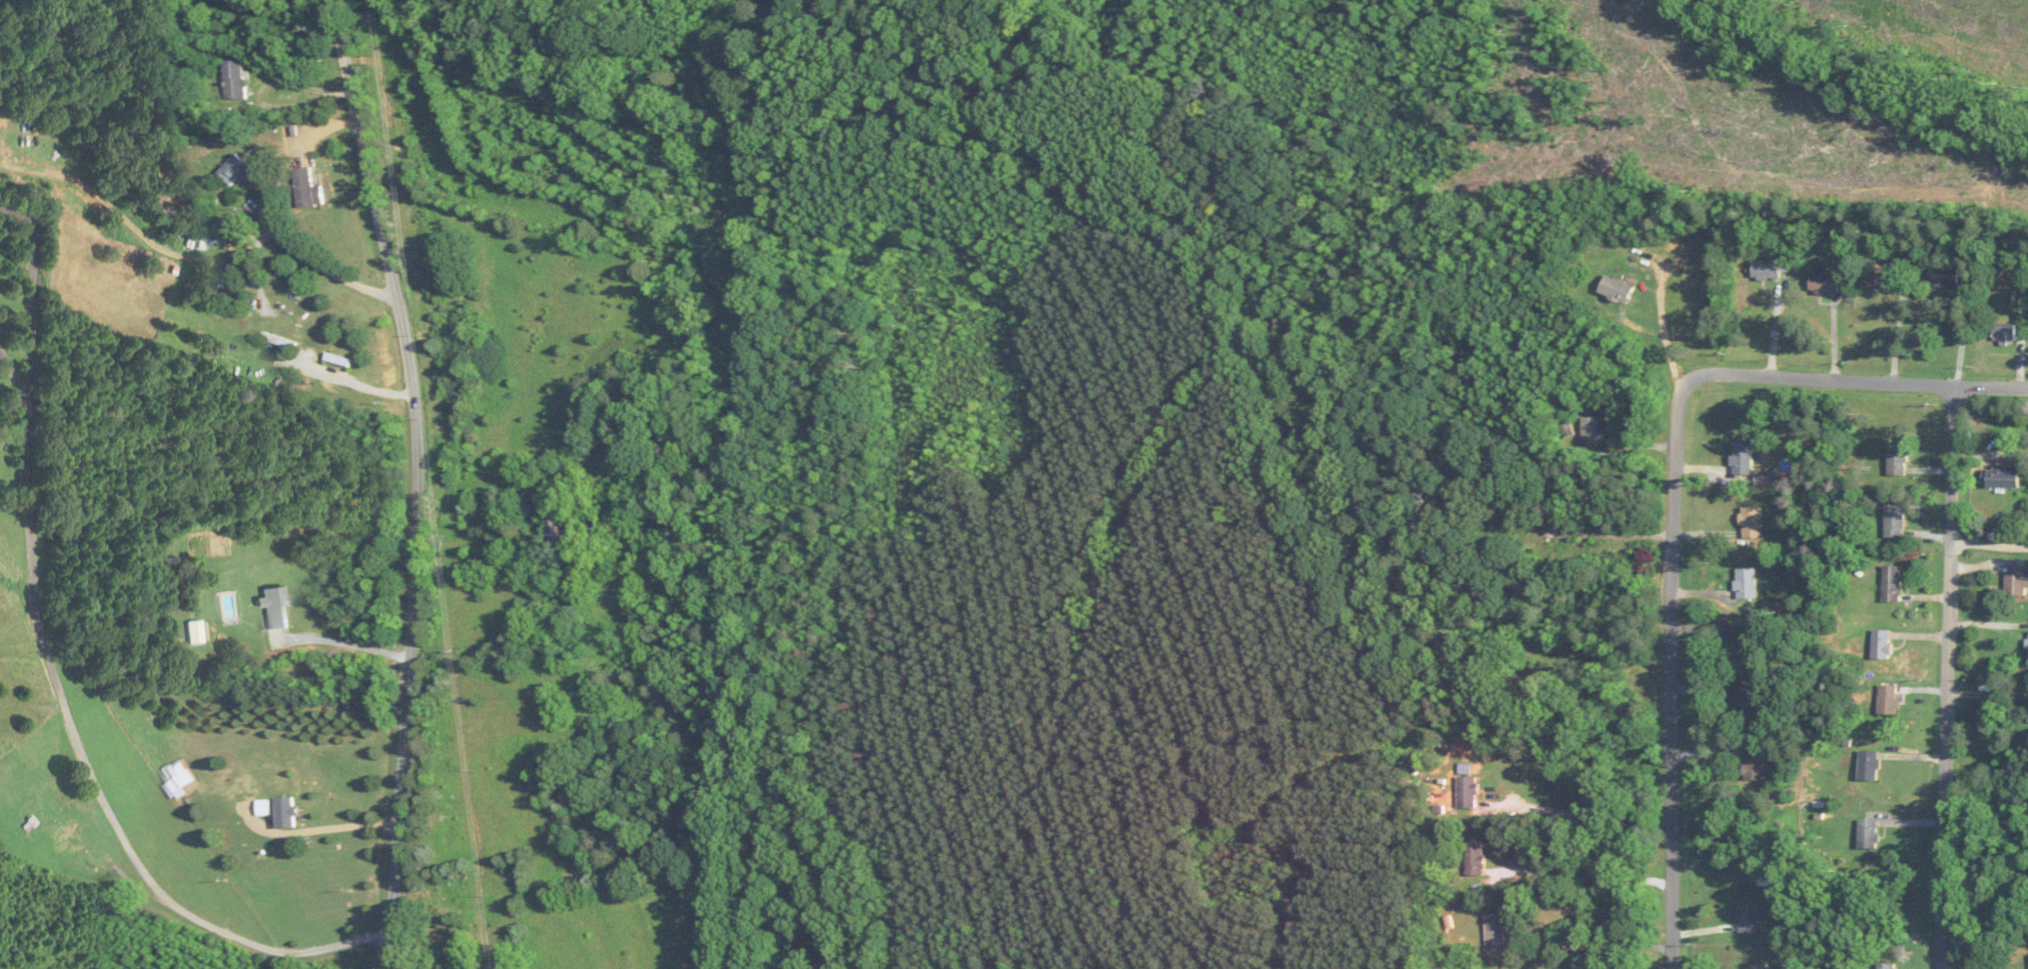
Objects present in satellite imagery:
building: (235, 81)
road: (262, 88)
building: (0, 130)
building: (234, 172)
building: (307, 190)
building: (194, 230)
road: (297, 244)
building: (1769, 270)
building: (1885, 277)
building: (1825, 284)
building: (1617, 290)
building: (293, 300)
road: (1898, 333)
building: (2005, 335)
road: (1962, 338)
building: (278, 341)
building: (338, 360)
road: (19, 371)
road: (1859, 382)
building: (1591, 433)
building: (1742, 459)
building: (1897, 462)
building: (2000, 479)
road: (423, 480)
building: (1751, 522)
building: (1894, 523)
building: (562, 528)
building: (1546, 543)
road: (1990, 544)
building: (2017, 581)
building: (1747, 582)
building: (1892, 583)
building: (273, 607)
building: (193, 632)
building: (1736, 639)
road: (348, 640)
building: (1882, 643)
building: (567, 658)
road: (1678, 674)
road: (61, 675)
road: (1950, 677)
building: (1743, 699)
building: (1888, 699)
building: (1754, 765)
building: (1869, 765)
building: (177, 776)
building: (1467, 792)
building: (264, 808)
building: (286, 812)
road: (1577, 813)
road: (326, 826)
building: (1868, 834)
building: (65, 839)
building: (1475, 858)
road: (1581, 867)
building: (1771, 880)
building: (1747, 918)
building: (1496, 928)
road: (1604, 944)
building: (1759, 965)
building: (1886, 966)
building: (454, 967)

